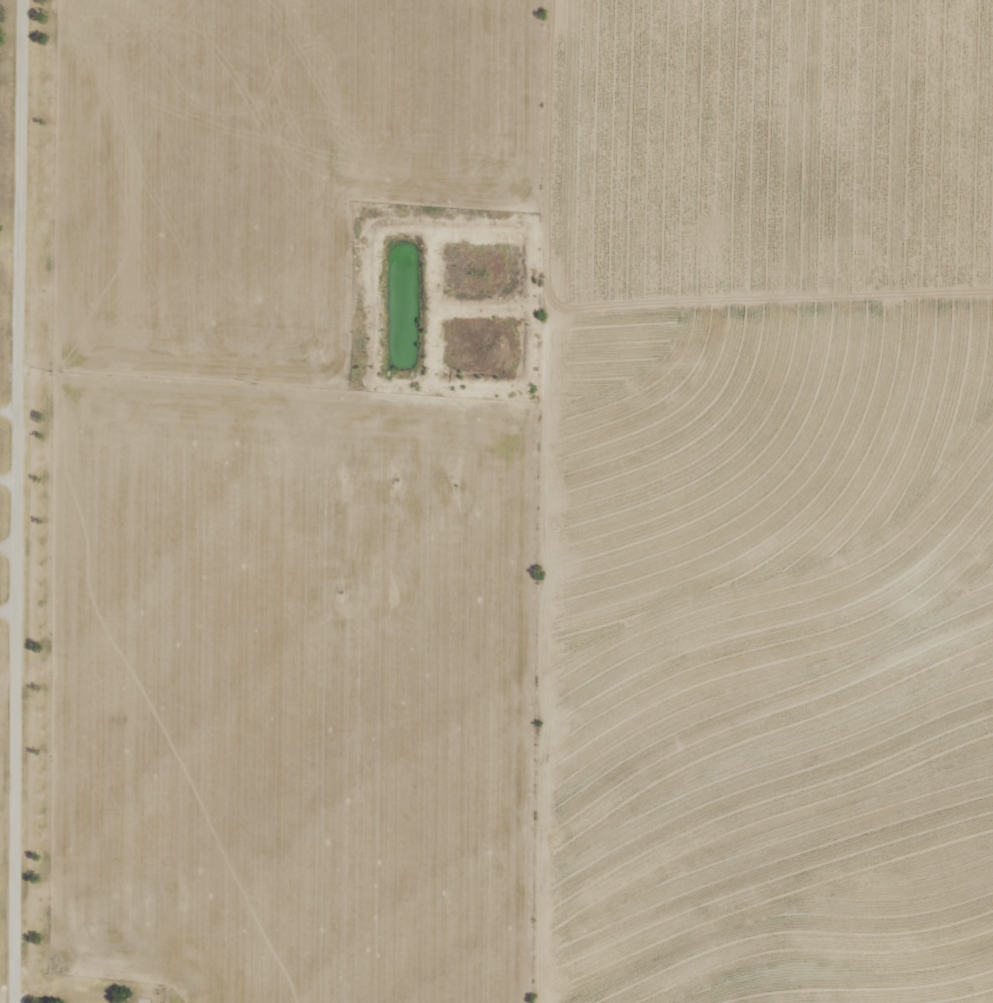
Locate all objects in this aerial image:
road: (23, 501)

